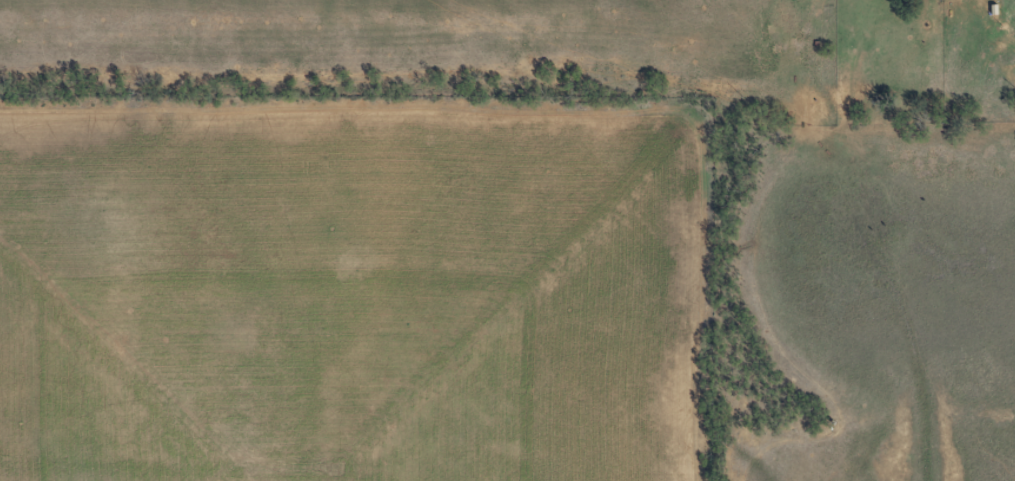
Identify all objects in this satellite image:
building: (1008, 6)

